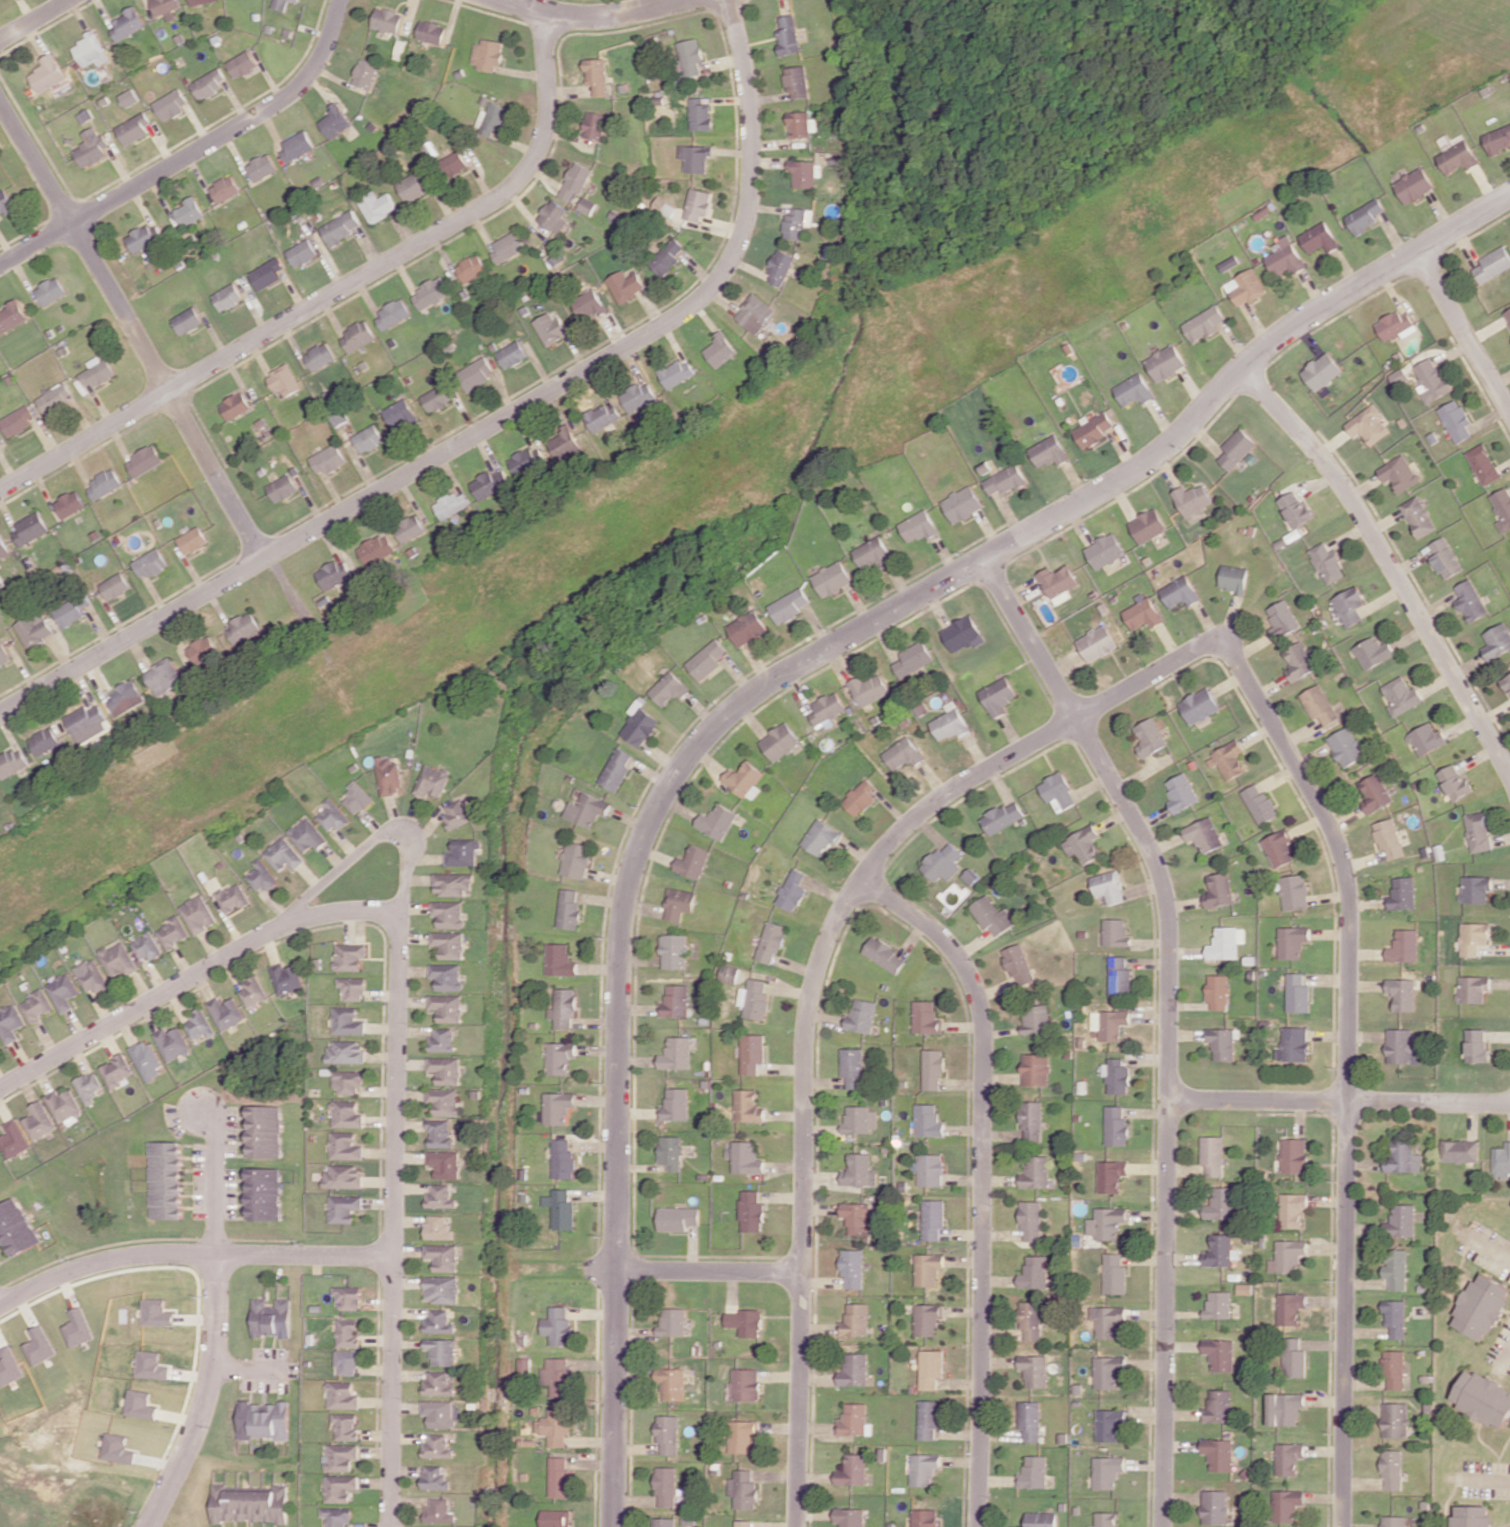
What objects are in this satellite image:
building: (295, 0)
building: (198, 2)
building: (279, 4)
building: (165, 8)
road: (593, 16)
road: (34, 19)
building: (387, 20)
building: (126, 23)
building: (432, 32)
building: (789, 33)
building: (89, 49)
building: (487, 54)
building: (690, 56)
building: (241, 64)
building: (47, 73)
building: (366, 73)
building: (596, 75)
building: (797, 81)
building: (207, 83)
building: (128, 97)
building: (170, 103)
building: (700, 114)
building: (492, 119)
building: (335, 121)
building: (800, 124)
building: (595, 125)
building: (132, 128)
building: (1497, 139)
building: (296, 145)
building: (90, 148)
road: (192, 152)
building: (470, 153)
building: (695, 157)
building: (1457, 157)
building: (455, 163)
building: (260, 167)
building: (804, 173)
building: (575, 181)
building: (416, 184)
building: (1413, 185)
building: (223, 188)
building: (5, 200)
building: (697, 204)
building: (378, 205)
building: (586, 205)
building: (664, 207)
building: (186, 211)
building: (553, 216)
building: (1364, 216)
building: (798, 223)
building: (341, 227)
building: (139, 238)
building: (1319, 238)
building: (507, 246)
building: (302, 252)
building: (1284, 256)
building: (667, 257)
building: (1492, 264)
building: (471, 267)
building: (780, 267)
building: (266, 273)
building: (625, 285)
building: (1245, 287)
building: (49, 290)
road: (336, 291)
building: (431, 292)
building: (227, 296)
building: (589, 304)
building: (756, 313)
building: (392, 314)
building: (11, 315)
building: (1507, 315)
building: (186, 320)
building: (1203, 324)
building: (1394, 326)
building: (550, 328)
road: (1464, 331)
building: (358, 336)
road: (143, 349)
building: (720, 350)
building: (512, 354)
building: (320, 356)
building: (1166, 362)
building: (1321, 371)
building: (95, 372)
building: (676, 372)
building: (476, 373)
building: (1399, 377)
building: (284, 380)
building: (1431, 380)
building: (1134, 390)
building: (638, 396)
building: (52, 398)
building: (436, 398)
building: (235, 405)
building: (400, 414)
building: (603, 416)
building: (339, 417)
building: (15, 420)
building: (1455, 420)
building: (1368, 425)
road: (488, 428)
building: (1093, 430)
building: (368, 438)
building: (564, 442)
building: (1237, 448)
building: (1049, 451)
building: (328, 459)
building: (527, 459)
building: (144, 460)
building: (1483, 464)
building: (1399, 473)
building: (1006, 480)
building: (489, 483)
building: (102, 484)
building: (283, 488)
building: (1193, 499)
building: (963, 503)
building: (67, 504)
building: (452, 504)
building: (1502, 507)
building: (1296, 509)
building: (1418, 516)
building: (1148, 525)
building: (920, 526)
building: (28, 528)
building: (409, 529)
building: (194, 540)
building: (3, 549)
building: (376, 549)
building: (1104, 550)
building: (874, 552)
building: (1445, 558)
building: (150, 563)
building: (1327, 563)
road: (1387, 563)
building: (333, 574)
building: (833, 578)
building: (1234, 578)
building: (1058, 582)
building: (114, 586)
building: (1180, 592)
building: (1470, 601)
building: (791, 605)
building: (1349, 605)
building: (71, 610)
building: (1142, 614)
building: (1283, 618)
building: (243, 627)
building: (749, 628)
building: (34, 629)
building: (963, 634)
road: (1030, 638)
building: (1497, 640)
building: (1096, 643)
building: (201, 649)
building: (1372, 652)
building: (4, 653)
building: (914, 658)
building: (708, 659)
building: (1299, 662)
building: (163, 676)
building: (1506, 682)
road: (767, 684)
building: (670, 688)
building: (871, 688)
building: (998, 695)
building: (1400, 695)
building: (125, 697)
building: (1319, 704)
building: (1199, 705)
building: (828, 710)
building: (951, 722)
building: (87, 723)
building: (640, 725)
building: (1149, 737)
building: (1426, 738)
building: (44, 741)
building: (781, 741)
building: (1345, 746)
building: (904, 753)
building: (1228, 760)
building: (12, 762)
building: (616, 769)
building: (387, 775)
building: (746, 779)
building: (431, 781)
building: (1454, 781)
building: (1057, 791)
building: (1181, 792)
building: (1374, 792)
building: (356, 797)
building: (861, 797)
building: (1260, 804)
building: (587, 809)
building: (456, 813)
building: (331, 816)
building: (1002, 816)
building: (719, 821)
building: (1478, 831)
building: (1204, 834)
building: (307, 835)
building: (822, 836)
building: (1388, 838)
road: (371, 842)
building: (1082, 844)
building: (1279, 848)
building: (462, 851)
building: (283, 854)
building: (576, 859)
building: (694, 861)
building: (943, 862)
building: (261, 876)
building: (452, 883)
building: (1108, 886)
building: (1475, 888)
building: (793, 890)
building: (1218, 890)
building: (1294, 892)
building: (1402, 893)
building: (232, 897)
building: (680, 903)
building: (569, 908)
building: (448, 913)
building: (197, 914)
building: (992, 916)
building: (172, 932)
building: (1114, 932)
building: (1473, 938)
building: (1292, 941)
building: (772, 942)
building: (1226, 942)
building: (449, 944)
building: (1404, 946)
building: (145, 947)
building: (675, 951)
building: (350, 955)
building: (885, 955)
building: (116, 959)
building: (561, 960)
building: (1018, 964)
road: (186, 971)
building: (730, 973)
building: (1118, 974)
building: (89, 975)
building: (447, 975)
road: (816, 976)
building: (287, 978)
building: (352, 987)
building: (1473, 988)
building: (252, 991)
building: (1217, 991)
building: (61, 992)
building: (1297, 993)
building: (1402, 993)
building: (755, 998)
building: (677, 1000)
building: (447, 1007)
building: (565, 1008)
building: (226, 1013)
building: (22, 1014)
building: (862, 1016)
building: (926, 1017)
building: (1035, 1019)
building: (347, 1021)
building: (198, 1025)
building: (443, 1040)
building: (172, 1043)
building: (1222, 1043)
building: (1293, 1043)
building: (1476, 1045)
building: (1401, 1046)
building: (347, 1052)
building: (752, 1052)
building: (677, 1053)
building: (561, 1057)
building: (147, 1060)
building: (852, 1067)
building: (446, 1069)
building: (932, 1069)
building: (1035, 1069)
road: (1347, 1069)
building: (117, 1070)
building: (1115, 1077)
building: (348, 1081)
building: (88, 1087)
building: (445, 1101)
road: (1339, 1102)
building: (676, 1104)
building: (64, 1106)
building: (747, 1106)
building: (559, 1107)
road: (1168, 1111)
building: (347, 1114)
building: (859, 1119)
building: (927, 1120)
building: (1032, 1120)
building: (39, 1121)
building: (1114, 1126)
building: (265, 1131)
building: (441, 1132)
building: (13, 1139)
building: (346, 1146)
building: (1459, 1150)
building: (670, 1152)
building: (1211, 1155)
building: (1293, 1155)
building: (1402, 1157)
building: (745, 1158)
building: (564, 1159)
building: (1501, 1161)
building: (446, 1164)
building: (929, 1169)
building: (857, 1171)
building: (1035, 1172)
building: (1110, 1175)
road: (983, 1176)
building: (344, 1177)
road: (213, 1179)
building: (165, 1180)
building: (264, 1193)
building: (442, 1196)
building: (1219, 1203)
building: (345, 1208)
building: (562, 1208)
building: (1291, 1209)
building: (750, 1211)
building: (854, 1217)
road: (389, 1218)
building: (677, 1218)
building: (931, 1218)
building: (1030, 1221)
building: (1400, 1221)
building: (1106, 1222)
building: (439, 1227)
building: (14, 1228)
building: (1217, 1250)
road: (1497, 1251)
road: (189, 1253)
building: (1286, 1255)
building: (444, 1256)
building: (850, 1268)
building: (926, 1268)
building: (1395, 1268)
road: (693, 1271)
building: (1033, 1272)
building: (1113, 1273)
building: (443, 1289)
building: (349, 1297)
building: (1216, 1305)
building: (1480, 1307)
building: (1289, 1308)
building: (154, 1312)
building: (1394, 1317)
building: (272, 1318)
building: (925, 1318)
building: (1030, 1319)
building: (853, 1320)
building: (1107, 1320)
building: (672, 1321)
building: (440, 1322)
building: (745, 1322)
building: (559, 1325)
building: (74, 1327)
building: (349, 1332)
building: (35, 1345)
road: (1508, 1350)
building: (443, 1351)
building: (1218, 1353)
building: (1292, 1358)
building: (348, 1362)
building: (149, 1365)
building: (7, 1366)
building: (928, 1368)
building: (852, 1369)
building: (1032, 1369)
building: (1393, 1369)
building: (1106, 1370)
building: (558, 1376)
building: (672, 1382)
building: (441, 1383)
building: (746, 1384)
building: (343, 1395)
road: (206, 1396)
building: (1482, 1399)
building: (138, 1404)
building: (1215, 1406)
building: (1283, 1408)
building: (440, 1413)
building: (851, 1419)
building: (926, 1419)
building: (1394, 1419)
building: (264, 1420)
building: (1027, 1420)
building: (1107, 1424)
building: (346, 1426)
building: (556, 1426)
building: (668, 1435)
building: (743, 1435)
building: (438, 1446)
building: (116, 1449)
building: (1216, 1453)
building: (342, 1456)
building: (1287, 1458)
building: (923, 1468)
building: (1391, 1469)
building: (852, 1470)
building: (1105, 1471)
building: (1031, 1472)
building: (436, 1477)
building: (560, 1477)
road: (1489, 1477)
building: (666, 1486)
building: (341, 1487)
building: (744, 1488)
building: (250, 1503)
building: (1285, 1505)
building: (1213, 1507)
building: (440, 1510)
building: (337, 1516)
building: (1471, 1516)
building: (849, 1517)
building: (556, 1518)
building: (924, 1518)
building: (1039, 1519)
building: (1104, 1519)
building: (1393, 1521)
building: (664, 1522)
building: (744, 1523)

